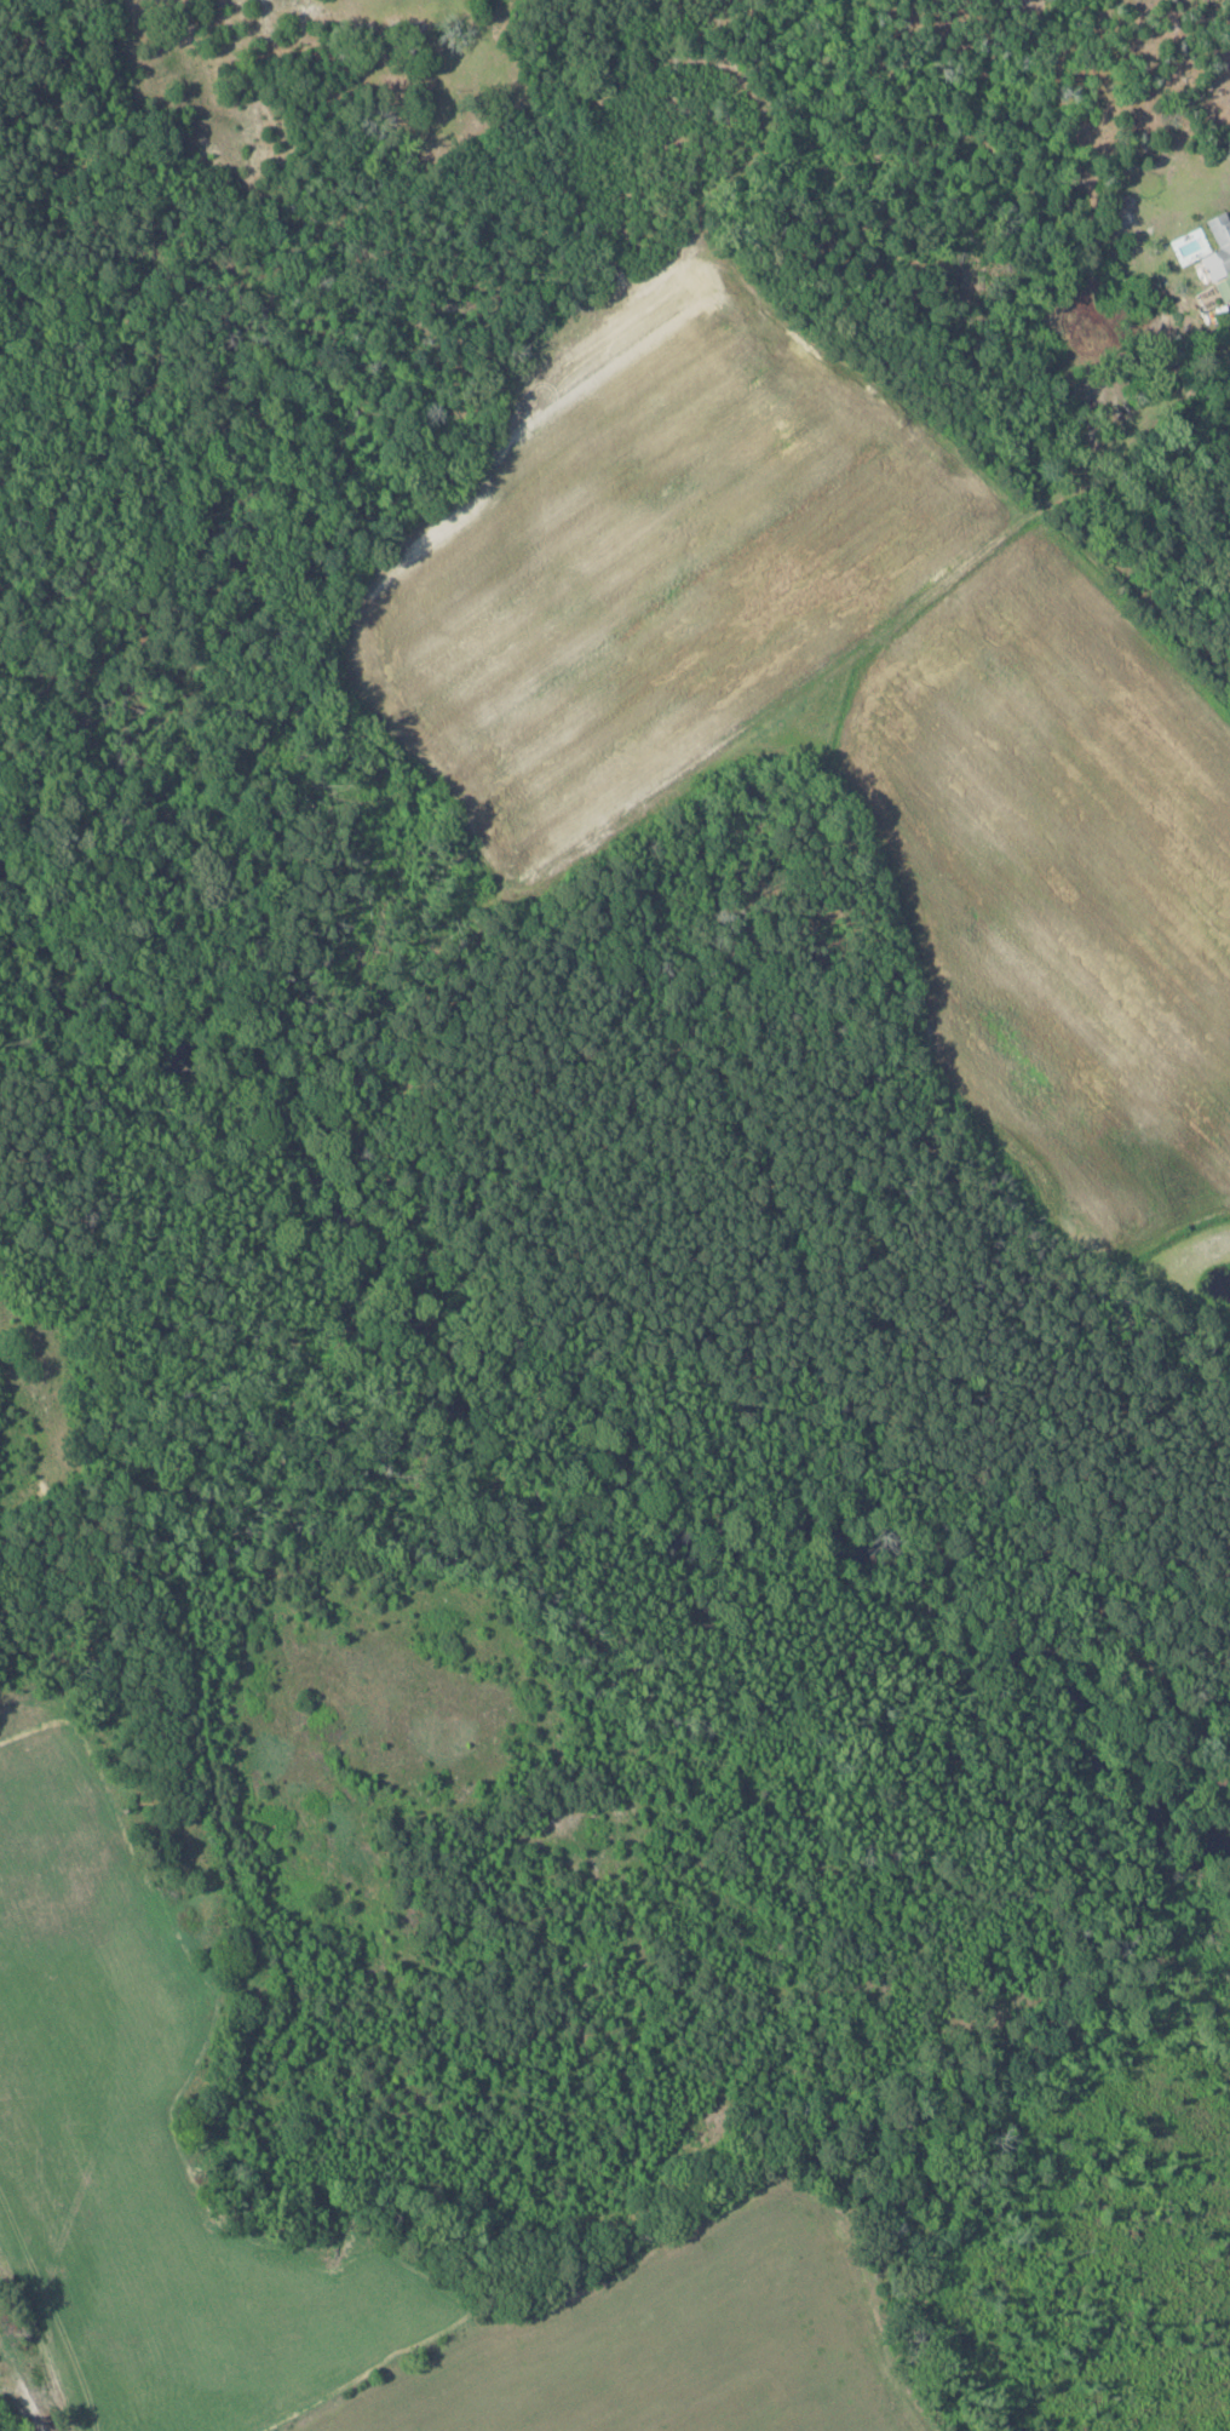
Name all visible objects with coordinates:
building: (406, 76)
building: (1222, 235)
building: (1225, 287)

